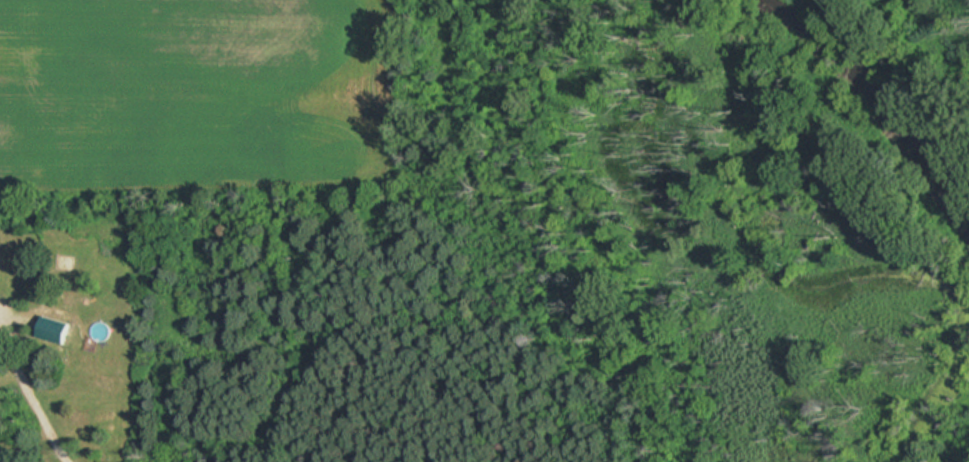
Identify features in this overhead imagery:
river: (878, 98)

